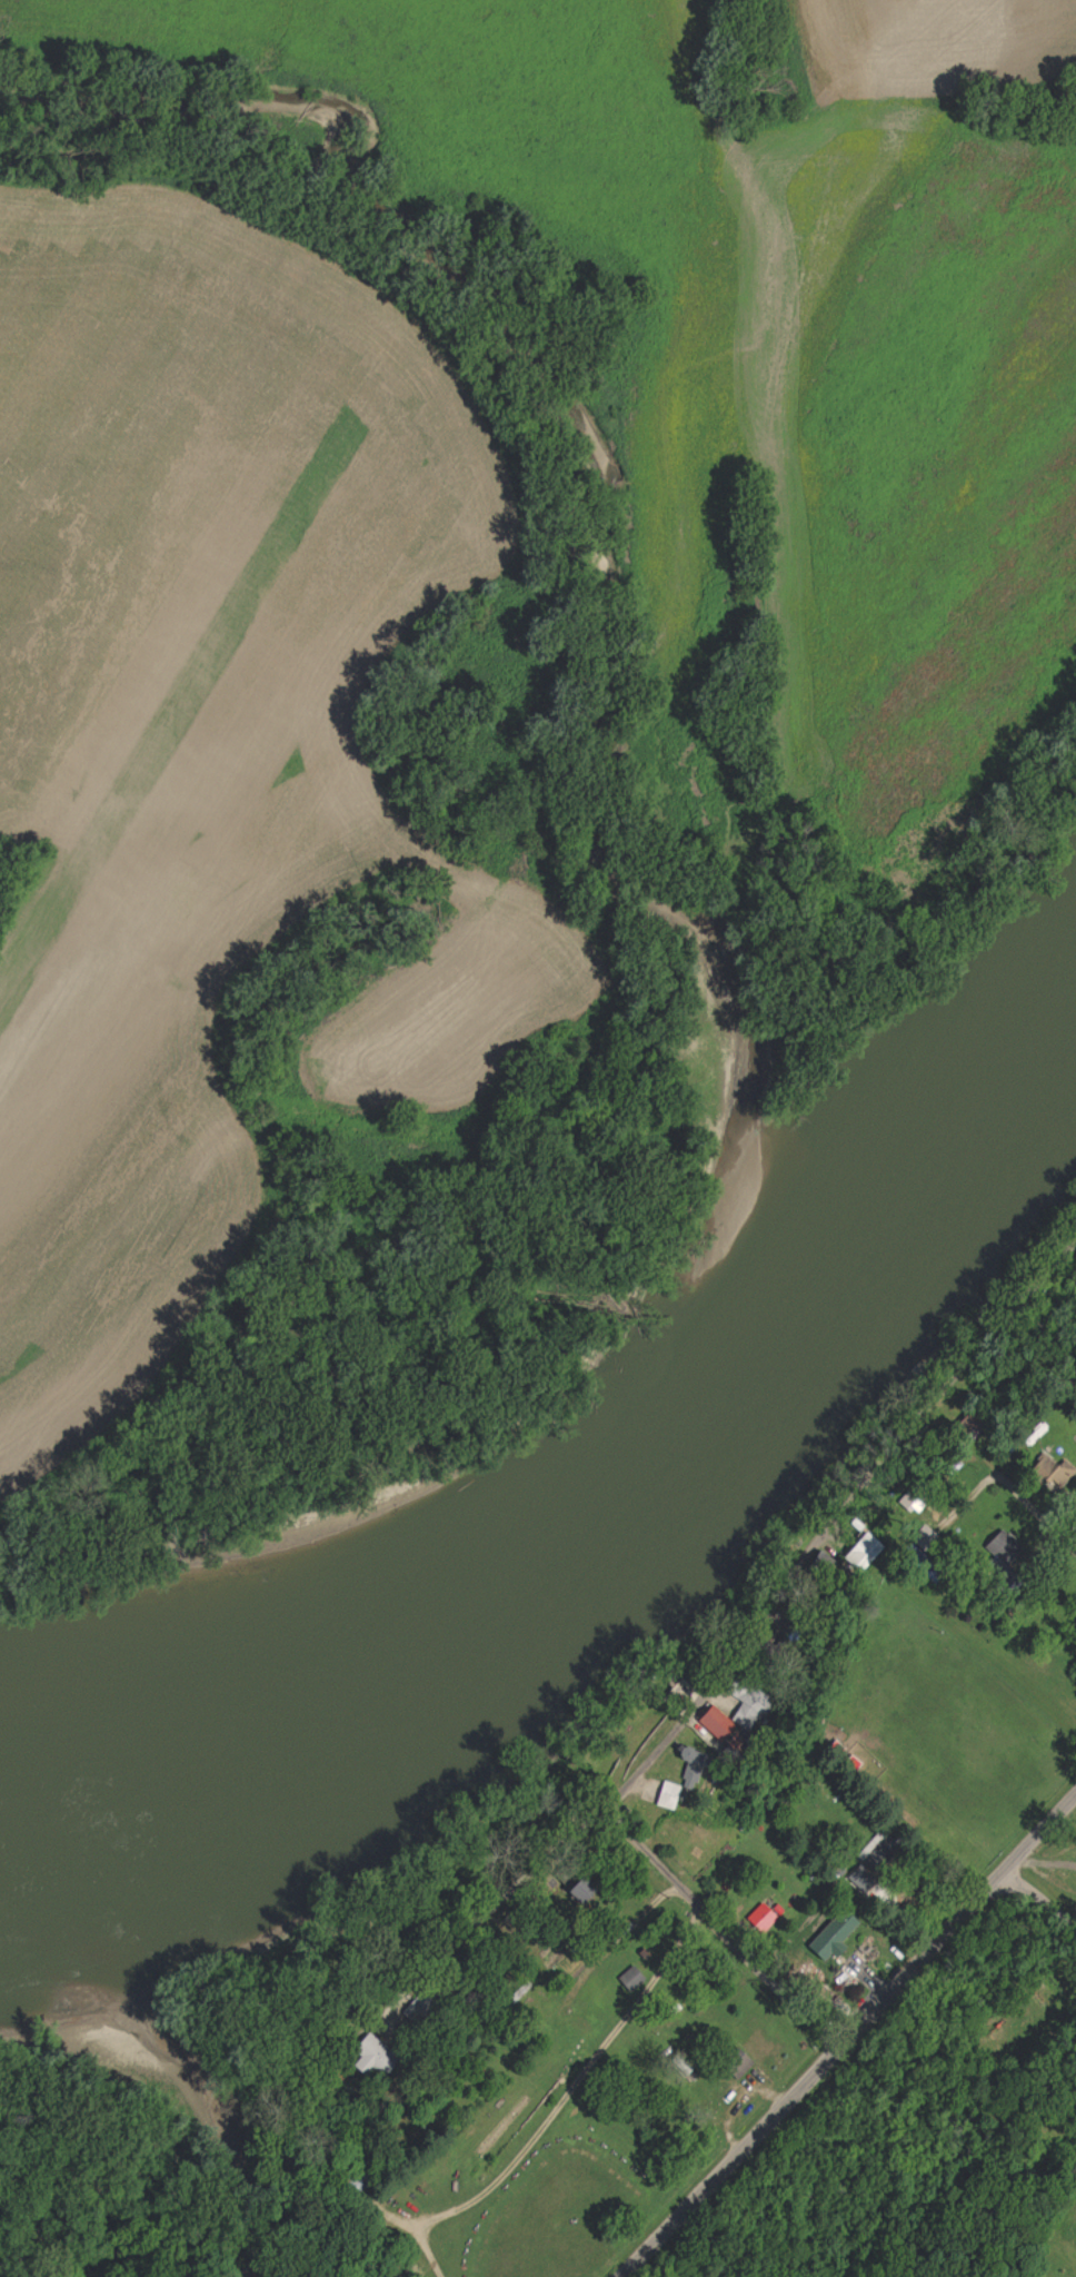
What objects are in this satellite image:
river: (560, 1453)
building: (1054, 1473)
road: (1044, 1522)
road: (846, 1529)
building: (864, 1556)
building: (825, 1564)
building: (750, 1707)
building: (718, 1724)
building: (695, 1770)
building: (670, 1796)
building: (584, 1892)
road: (1039, 1904)
building: (764, 1920)
road: (718, 1933)
building: (835, 1938)
building: (632, 1980)
road: (562, 2000)
road: (838, 2037)
building: (375, 2058)
building: (739, 2065)

